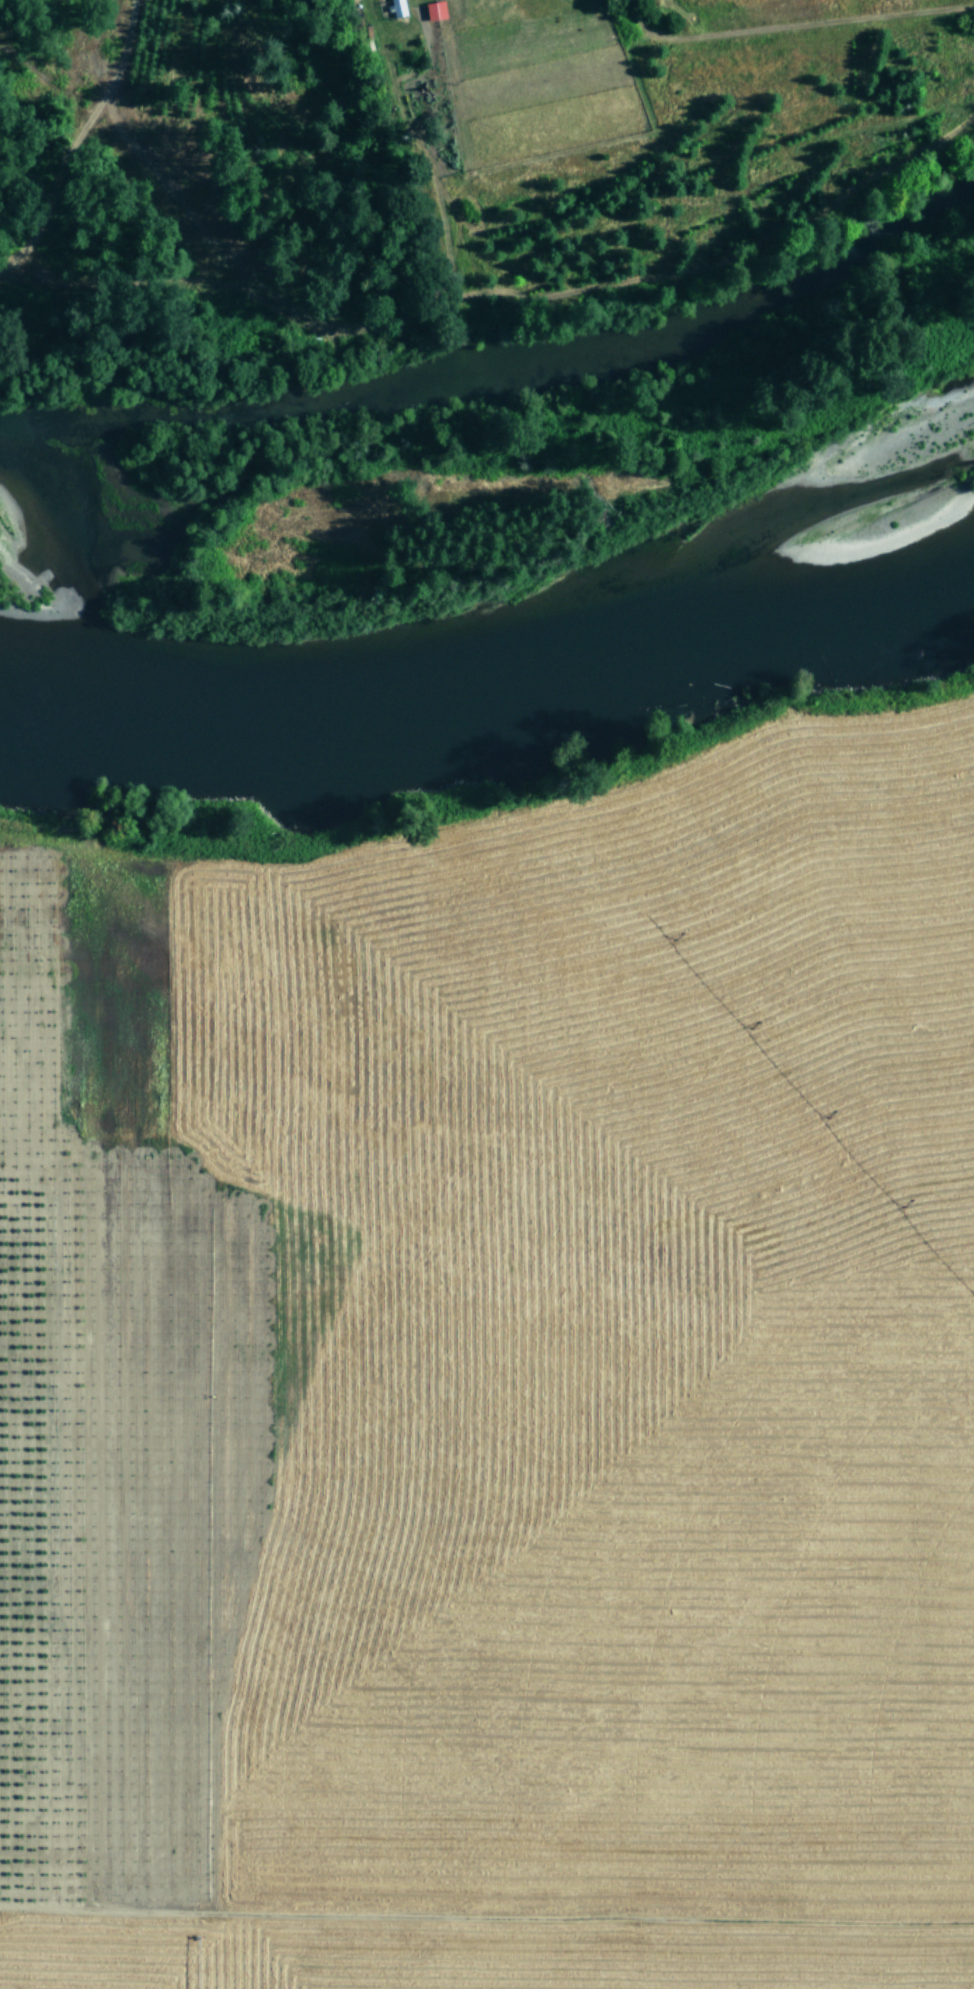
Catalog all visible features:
road: (746, 25)
crop: (654, 123)
river: (492, 684)
road: (457, 1331)
crop: (496, 1387)

